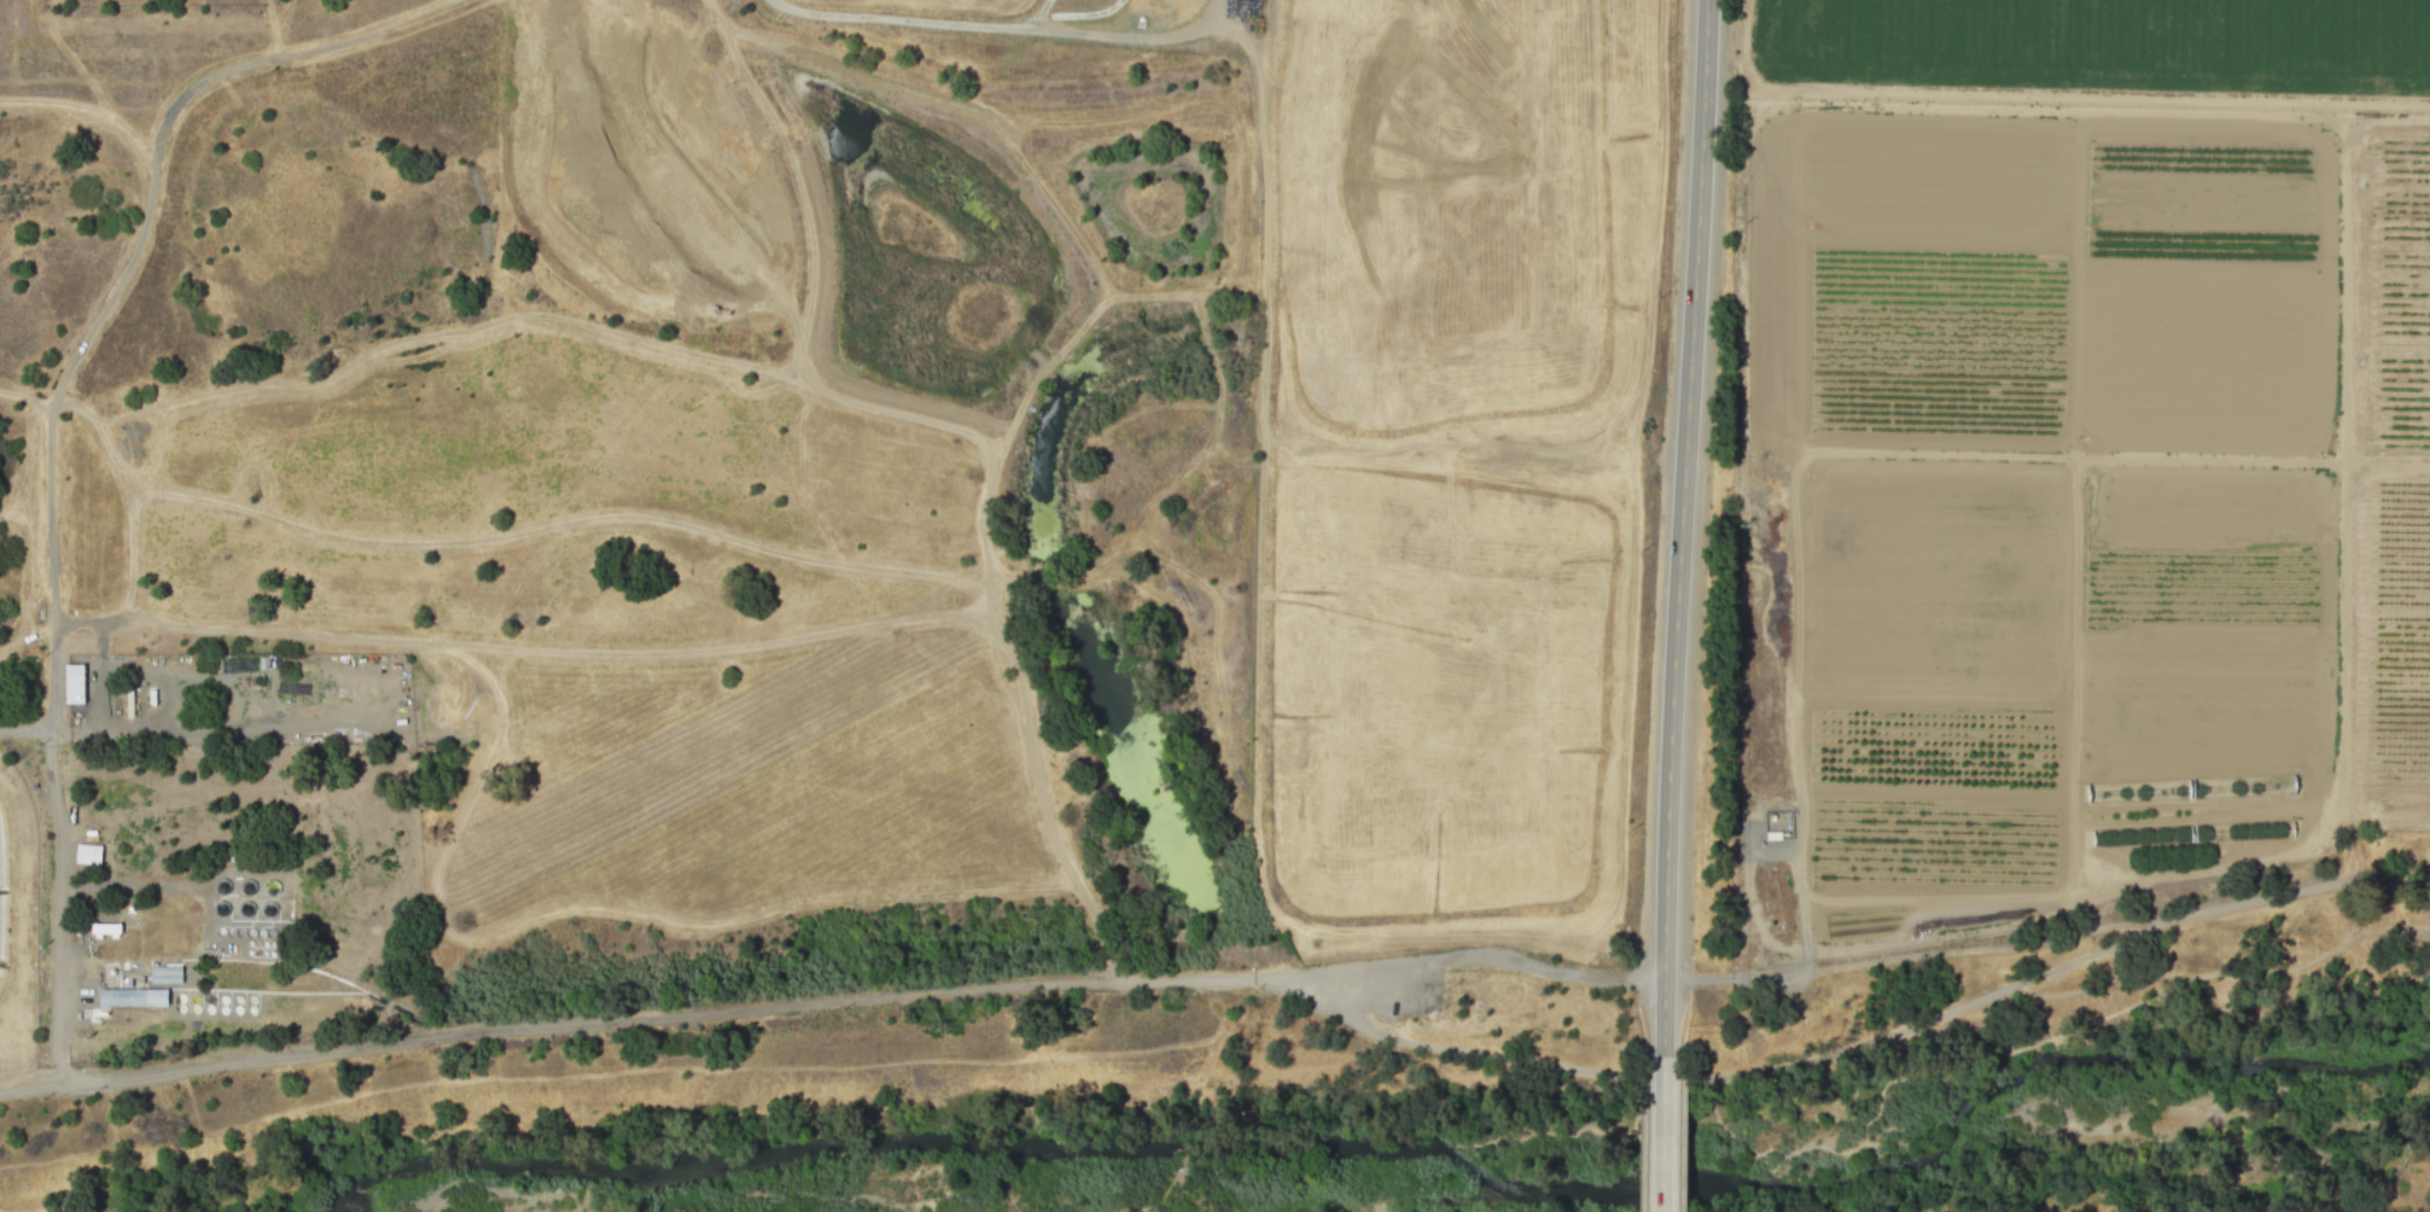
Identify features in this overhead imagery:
road: (914, 22)
road: (1123, 40)
road: (2049, 93)
road: (2050, 107)
road: (2389, 115)
road: (2115, 456)
road: (1679, 526)
building: (74, 682)
road: (1799, 700)
road: (129, 733)
road: (2343, 745)
road: (2382, 823)
building: (88, 851)
road: (59, 857)
road: (130, 885)
building: (103, 928)
road: (2422, 928)
road: (1913, 956)
road: (1481, 957)
road: (1805, 960)
building: (165, 973)
parking lot: (1444, 984)
road: (2098, 984)
building: (132, 995)
road: (1339, 1012)
road: (648, 1016)
road: (1916, 1022)
road: (2039, 1043)
road: (1575, 1129)
road: (1662, 1134)
river: (1380, 1147)

